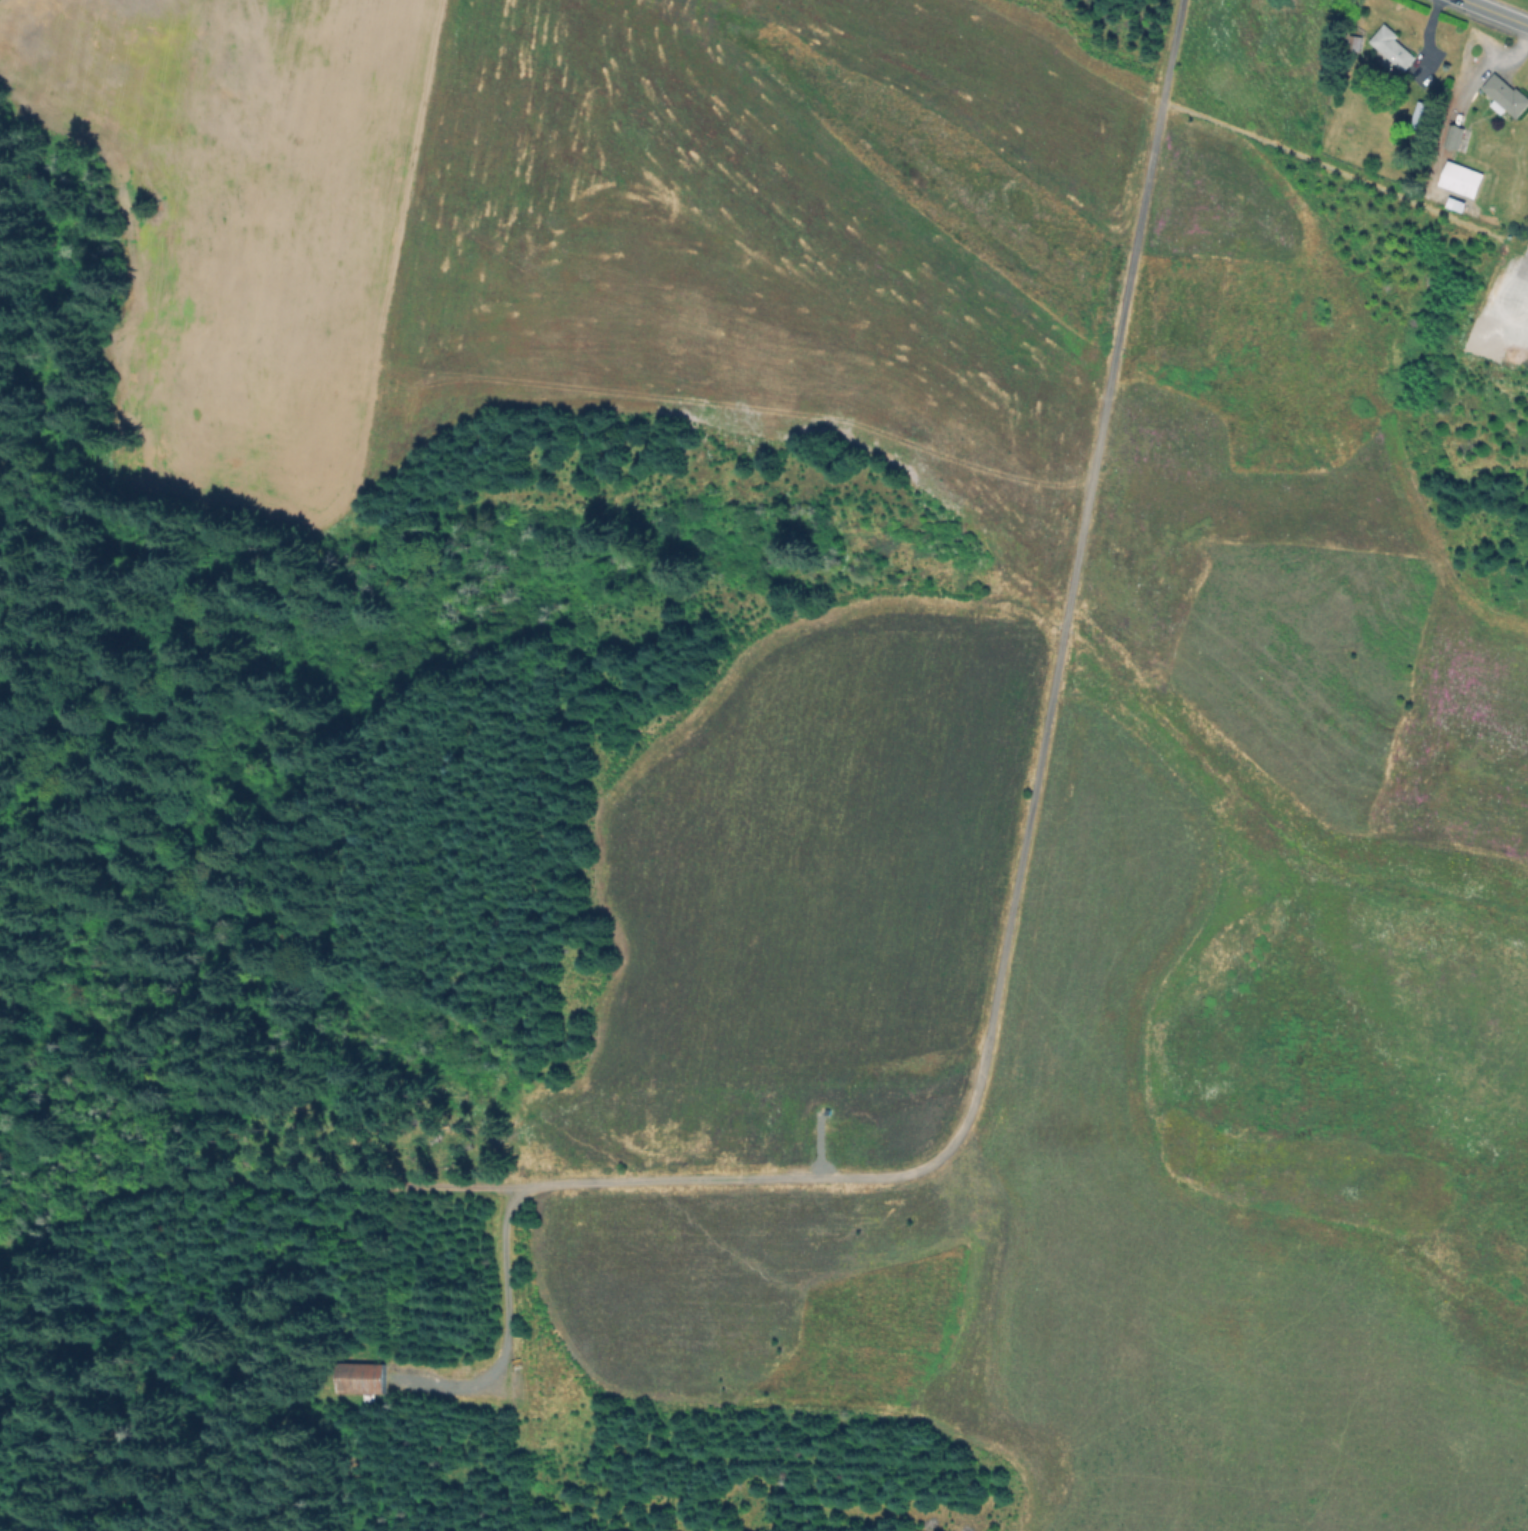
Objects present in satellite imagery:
road: (1496, 12)
building: (1392, 48)
building: (1506, 97)
building: (1422, 116)
building: (1457, 138)
building: (1462, 179)
road: (1517, 319)
road: (1036, 789)
building: (845, 1133)
road: (506, 1324)
building: (357, 1374)

